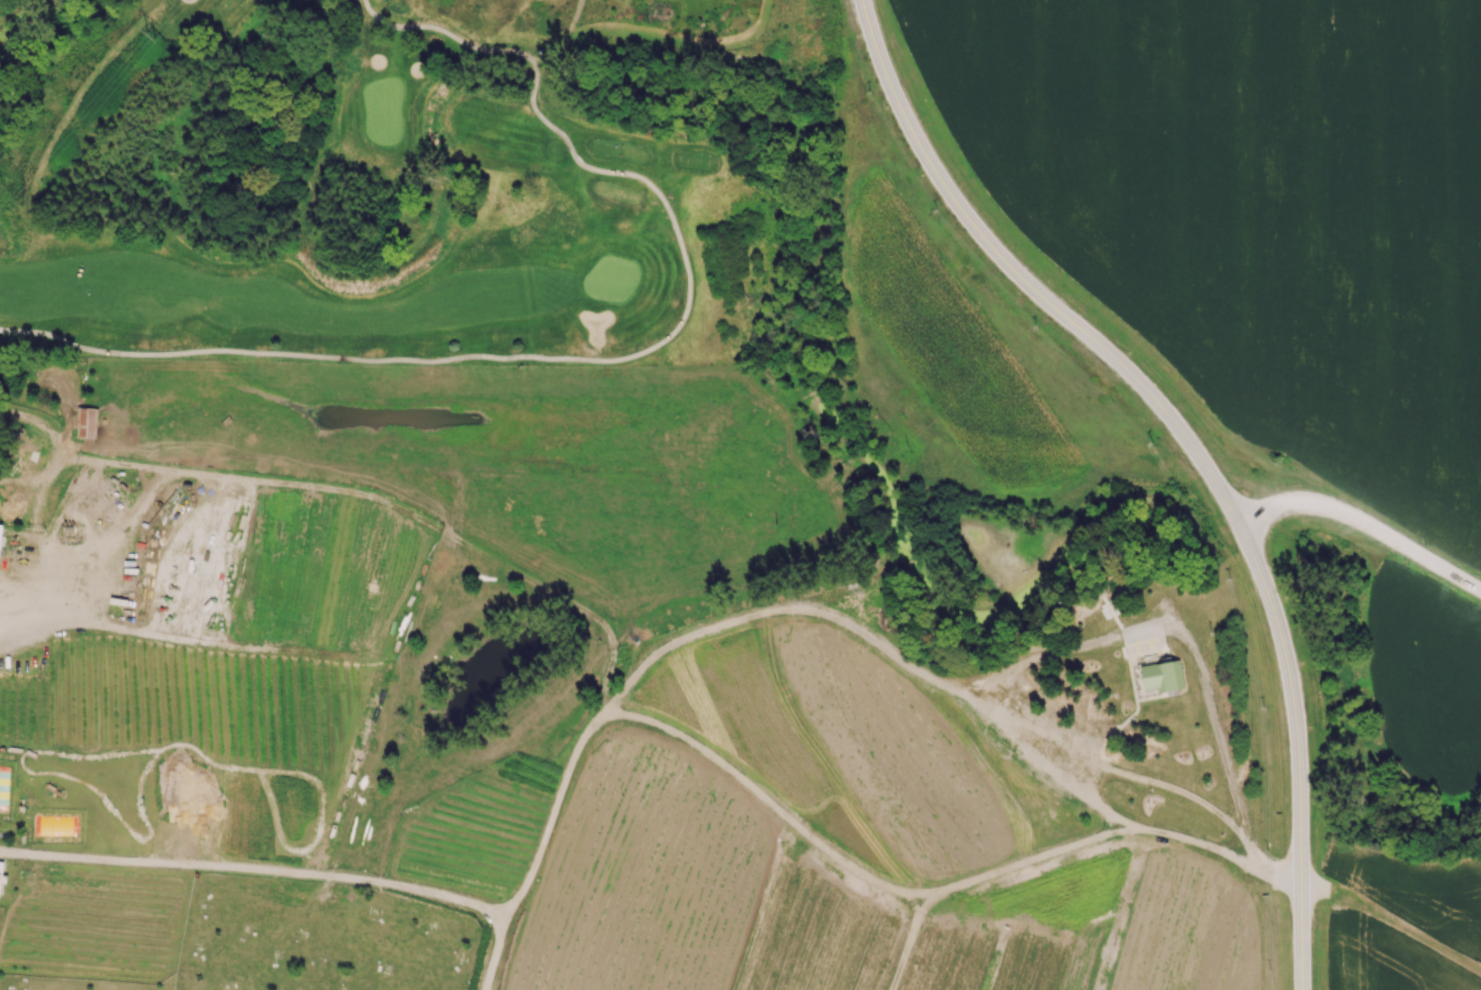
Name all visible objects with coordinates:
road: (188, 2)
road: (450, 35)
power tower: (152, 36)
road: (534, 85)
park: (416, 181)
crop: (1256, 212)
road: (1024, 280)
road: (497, 358)
road: (45, 420)
building: (87, 422)
building: (26, 442)
road: (147, 467)
road: (38, 477)
road: (427, 521)
road: (1365, 523)
road: (103, 524)
building: (0, 537)
crop: (280, 567)
road: (794, 607)
road: (86, 628)
road: (612, 632)
parking lot: (1141, 636)
building: (1163, 675)
road: (1132, 678)
theme park: (616, 683)
road: (1216, 713)
road: (1298, 752)
road: (1079, 772)
road: (561, 781)
crop: (163, 791)
crop: (475, 828)
road: (797, 832)
road: (253, 869)
road: (1272, 869)
building: (2, 875)
crop: (855, 918)
crop: (99, 925)
road: (1390, 928)
road: (494, 954)

